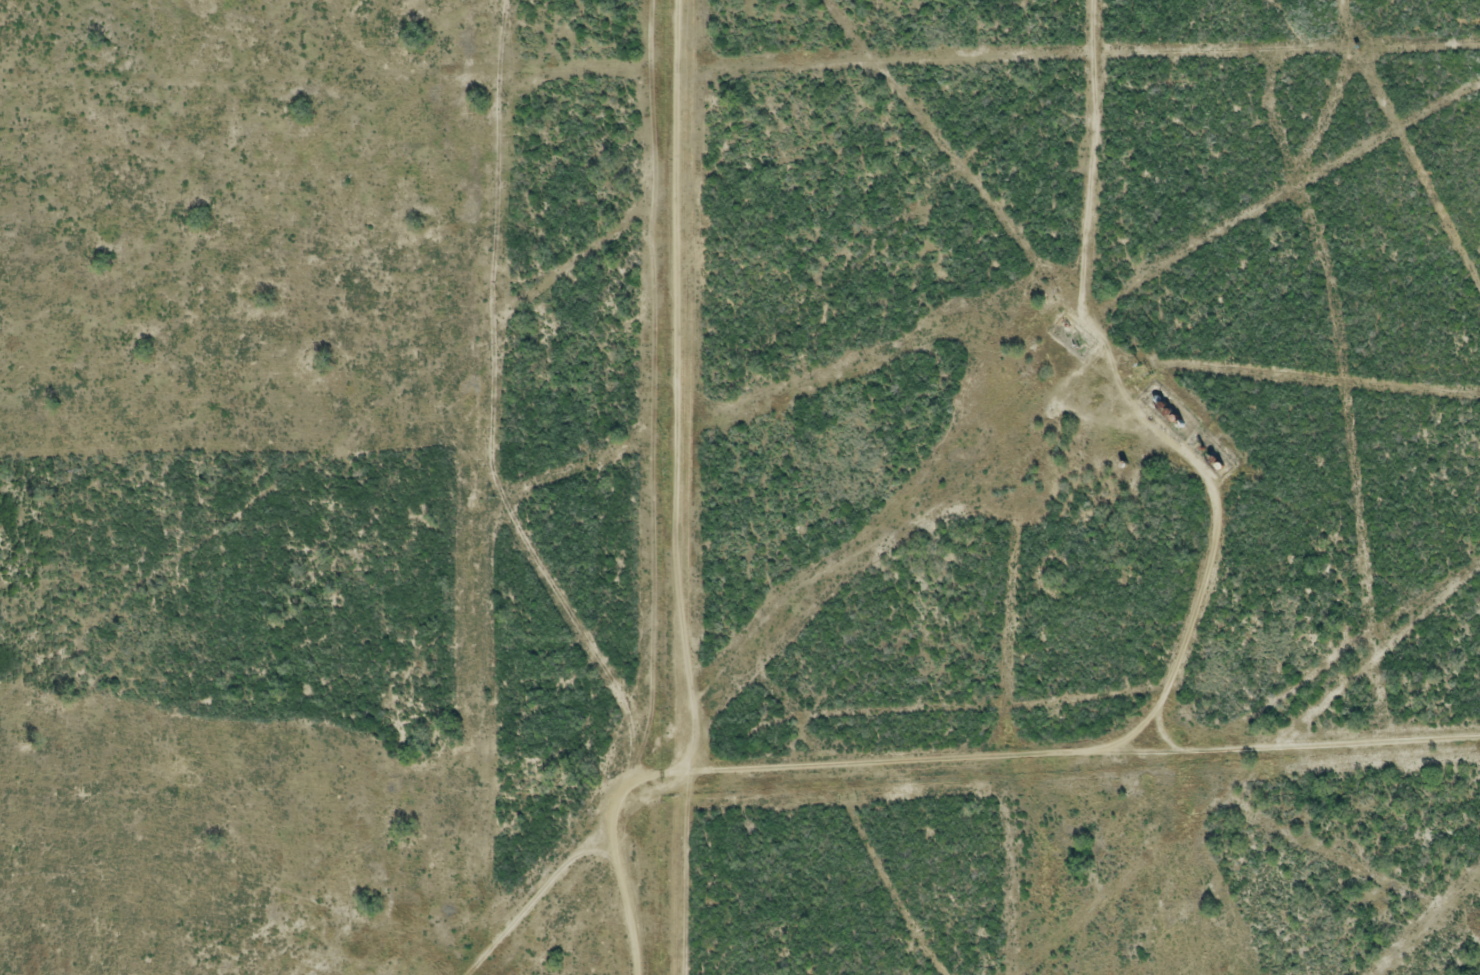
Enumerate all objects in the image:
petroleum well: (1051, 406)

